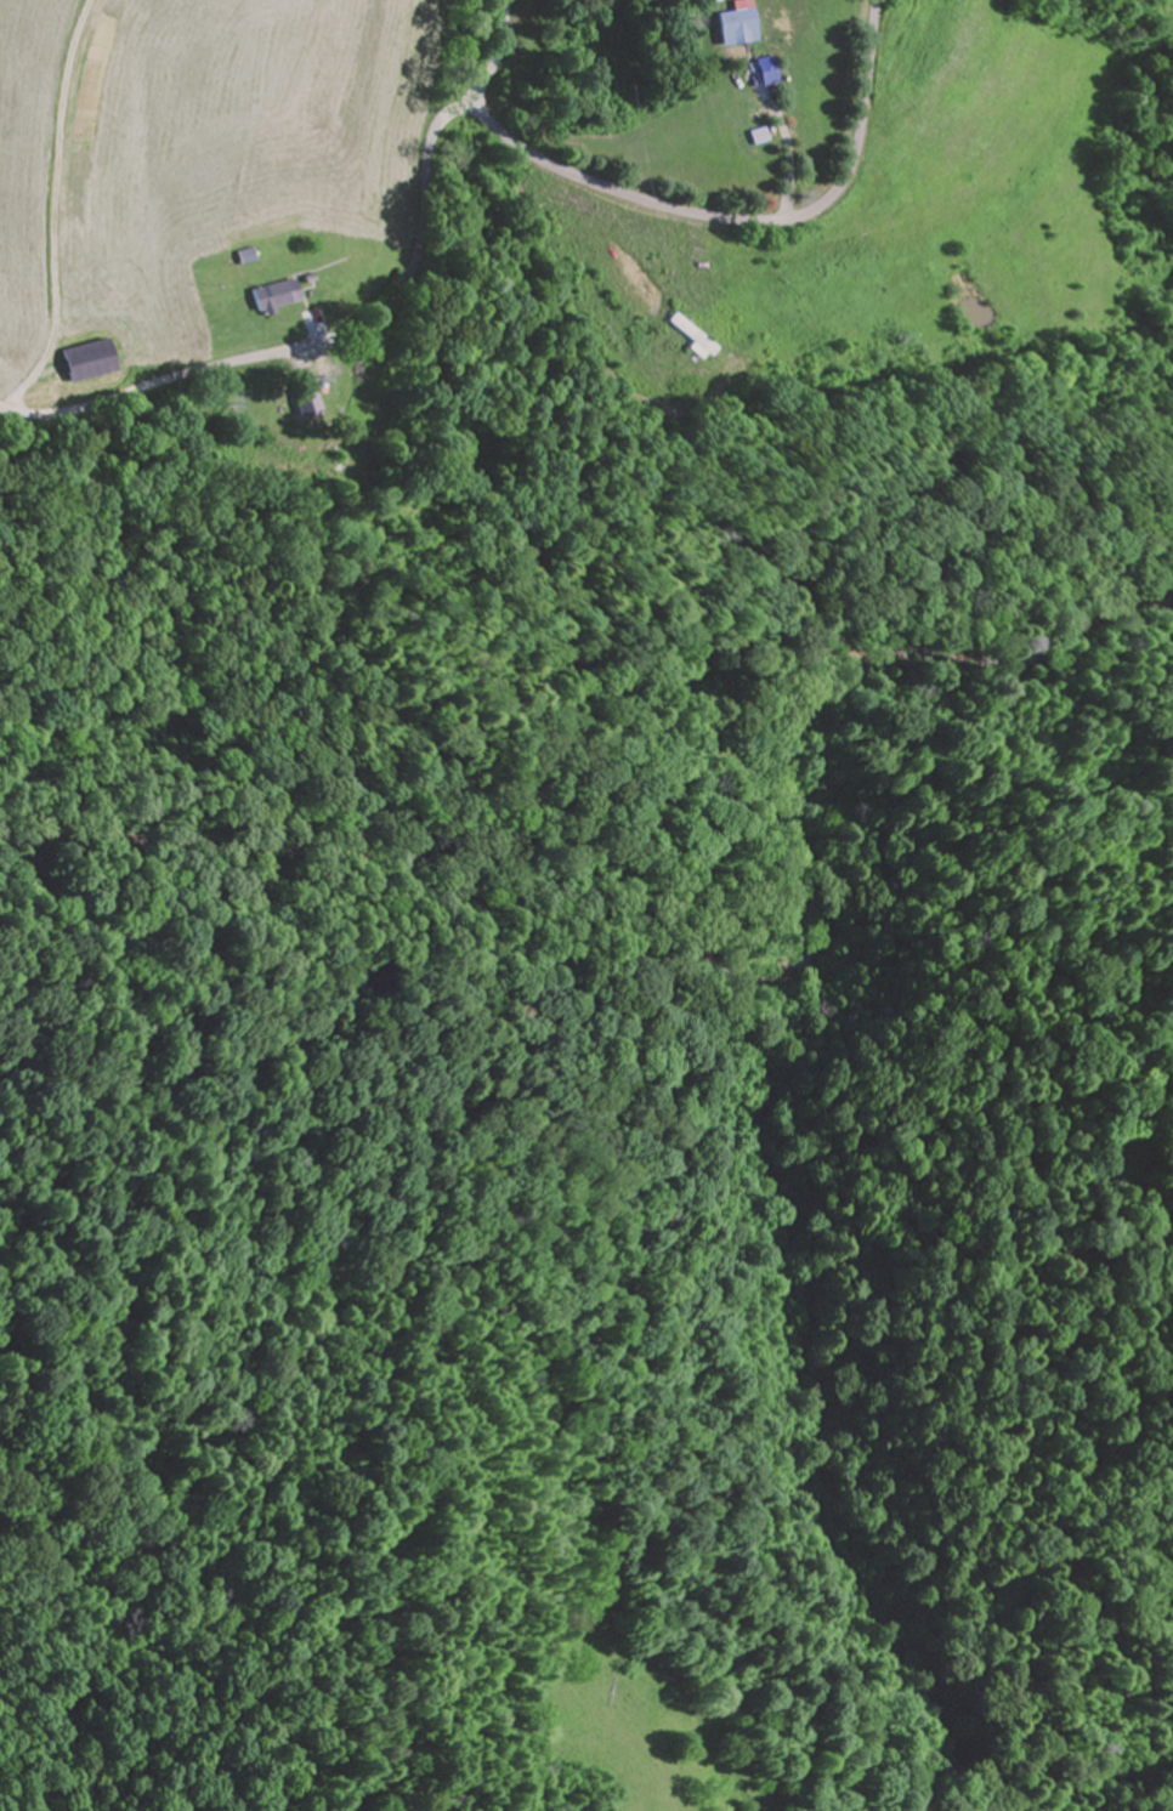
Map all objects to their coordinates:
building: (742, 24)
building: (534, 50)
road: (497, 55)
road: (454, 112)
building: (278, 294)
building: (696, 334)
building: (86, 361)
building: (304, 403)

